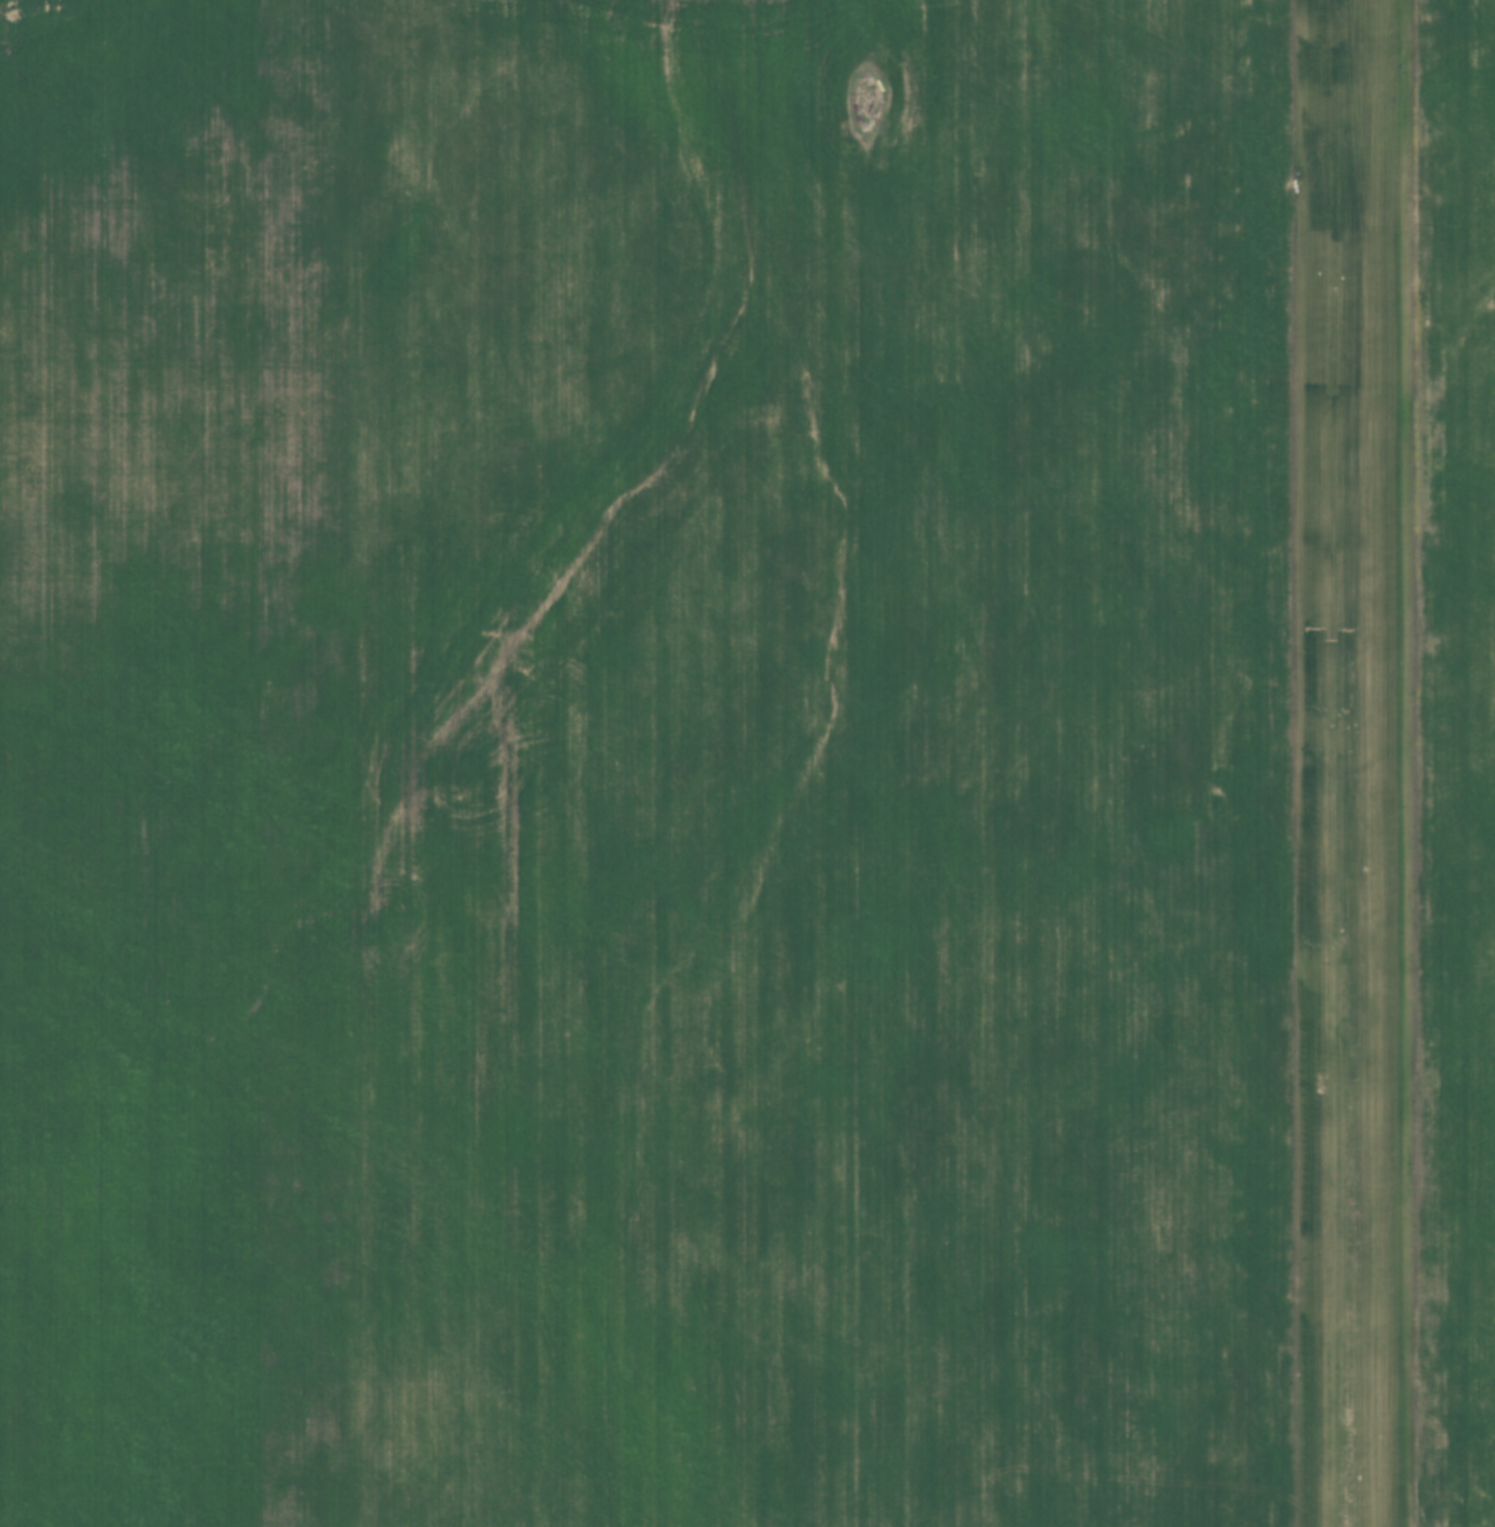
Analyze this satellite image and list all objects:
airport runway: (1354, 763)

